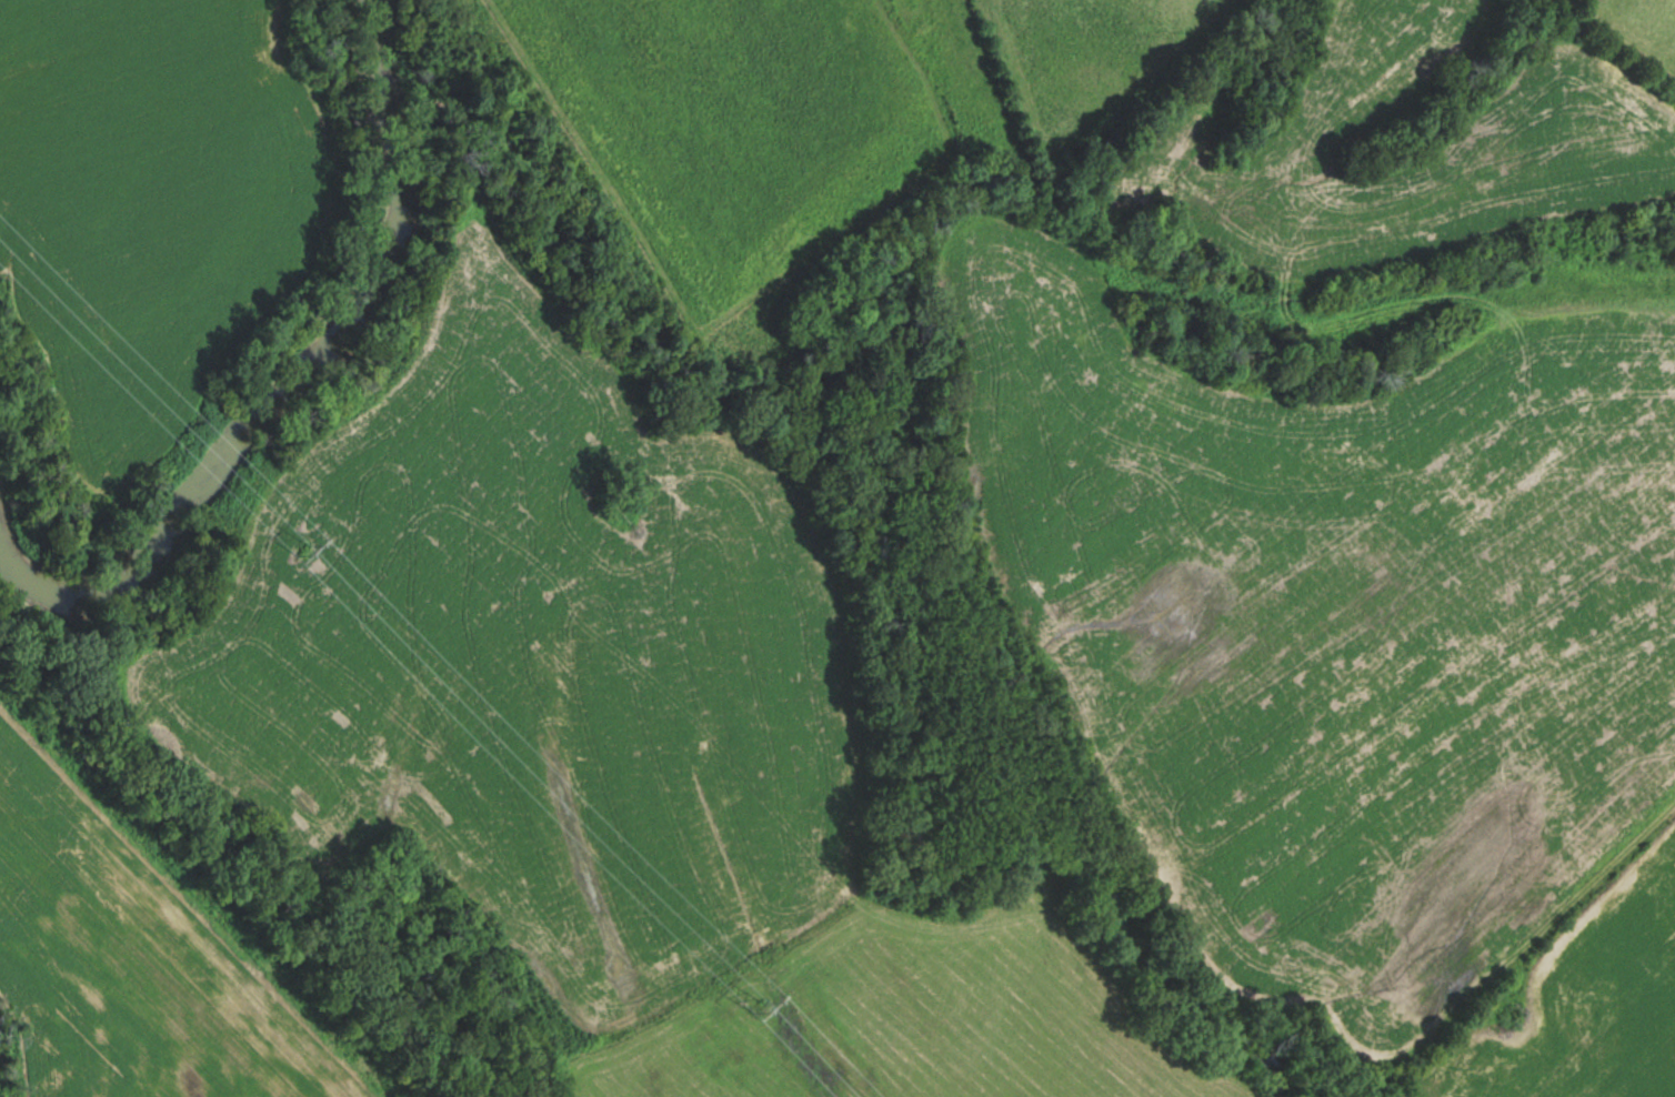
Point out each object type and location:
power tower: (298, 546)
power tower: (755, 1004)

